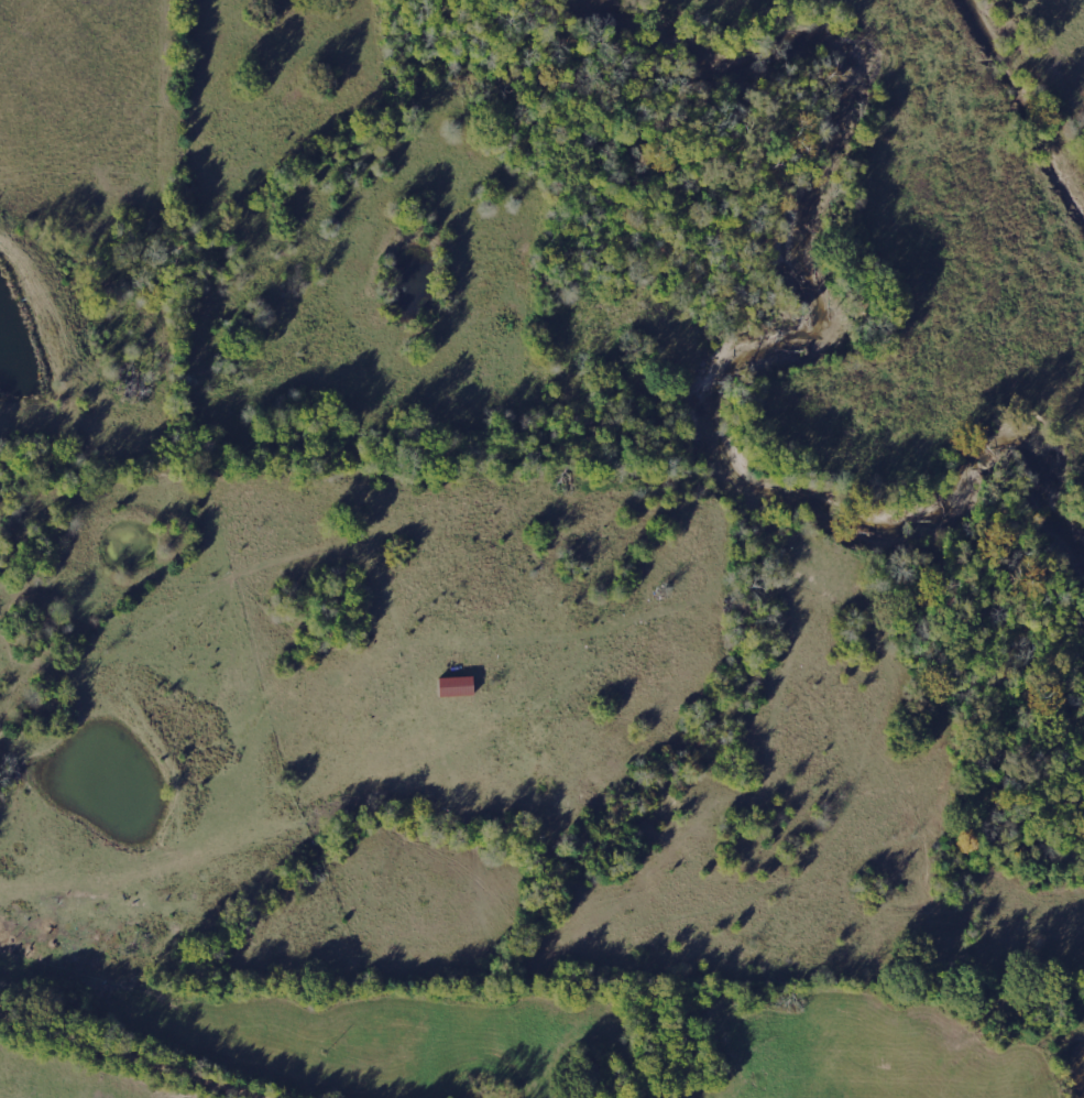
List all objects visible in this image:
road: (127, 1056)

